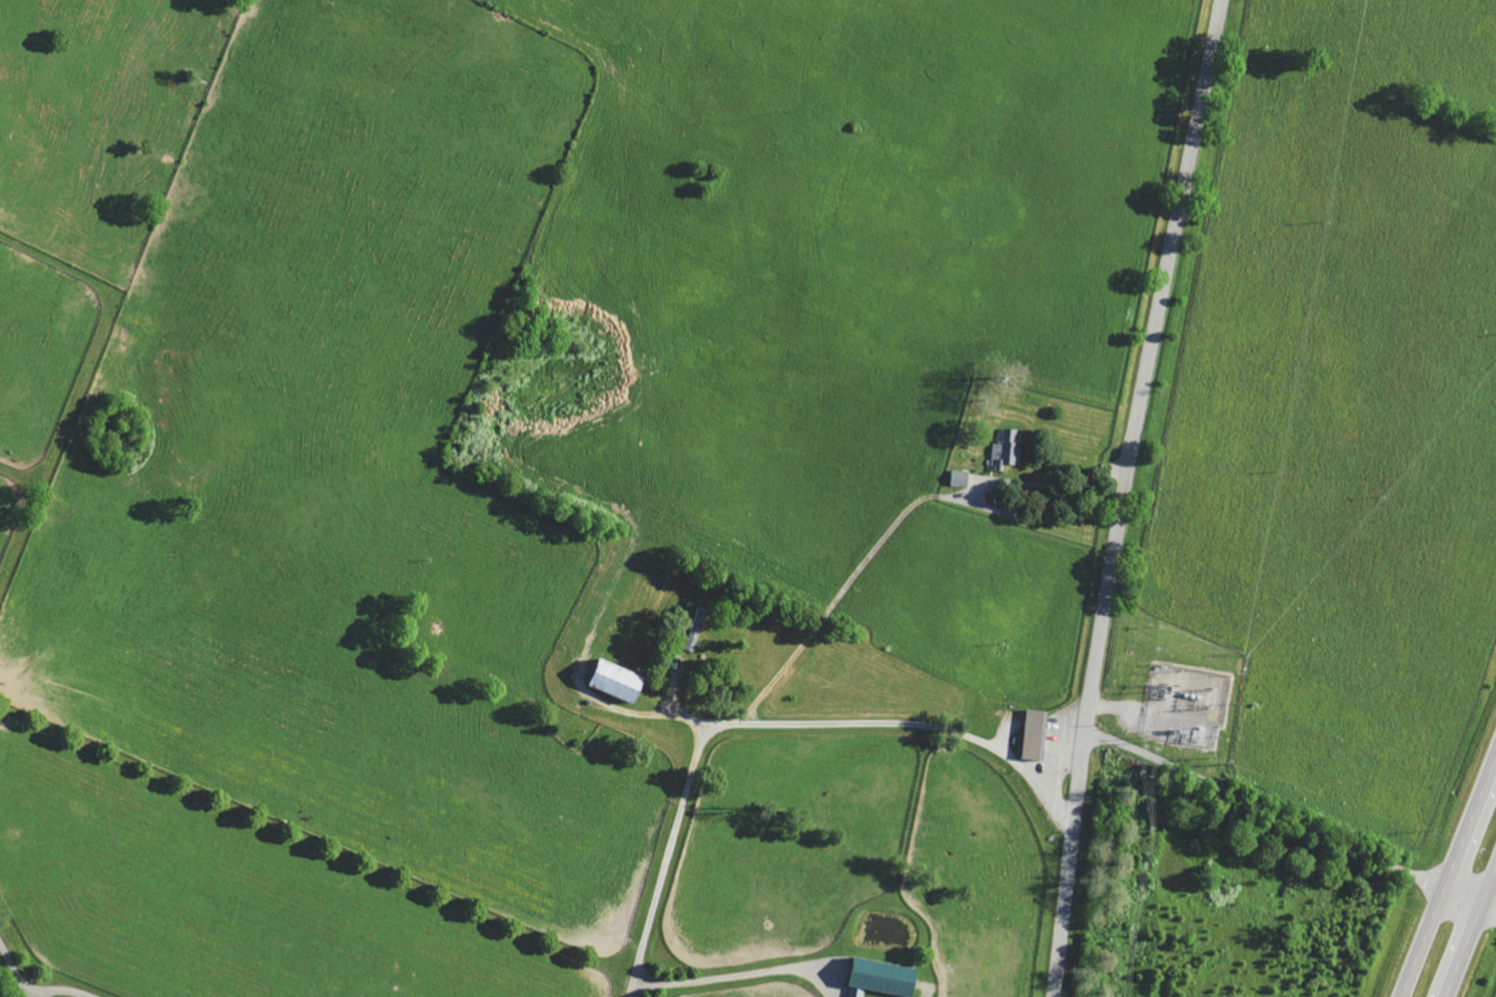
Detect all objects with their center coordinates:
building: (1007, 451)
building: (962, 479)
crop: (552, 484)
road: (1121, 496)
road: (896, 526)
building: (698, 630)
building: (625, 683)
power substation: (1186, 705)
road: (674, 707)
road: (768, 722)
building: (1039, 735)
road: (1281, 816)
road: (1448, 873)
road: (1487, 882)
road: (1487, 907)
road: (1460, 950)
road: (14, 970)
road: (742, 974)
building: (888, 979)
road: (56, 989)
road: (925, 991)

